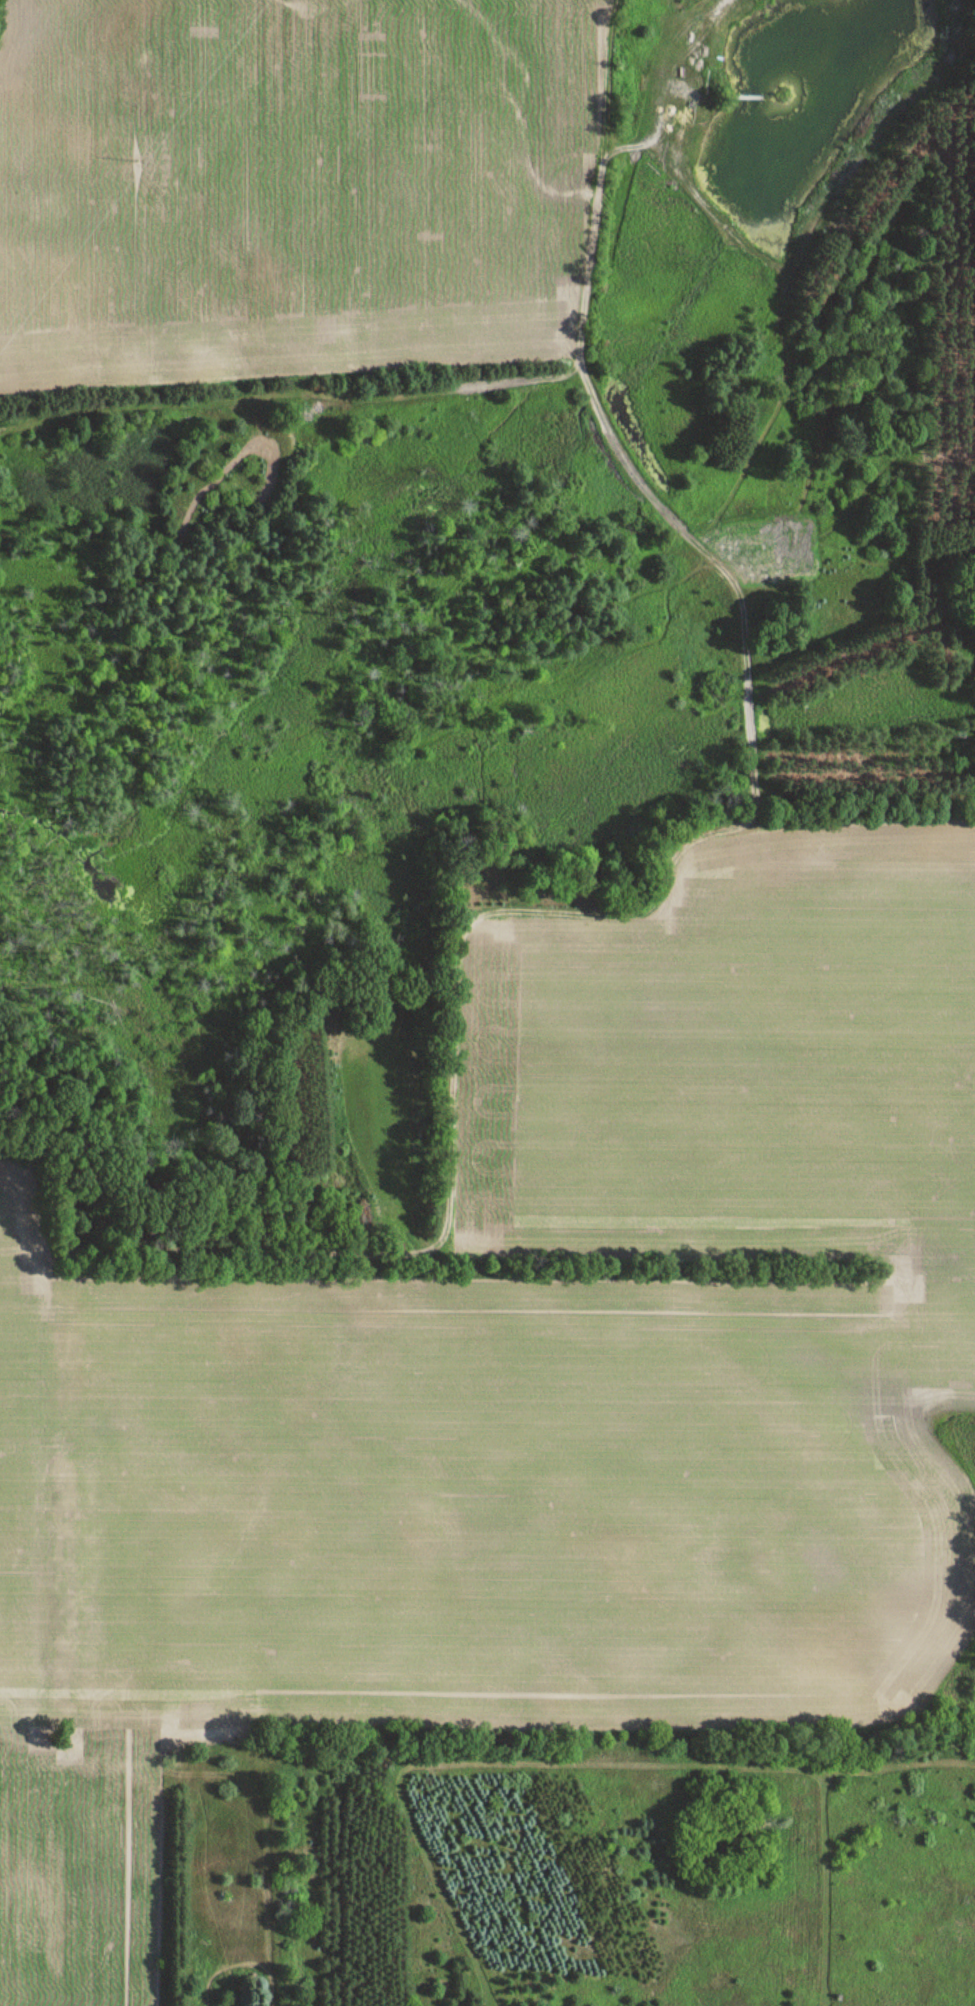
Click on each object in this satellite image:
power tower: (129, 170)

